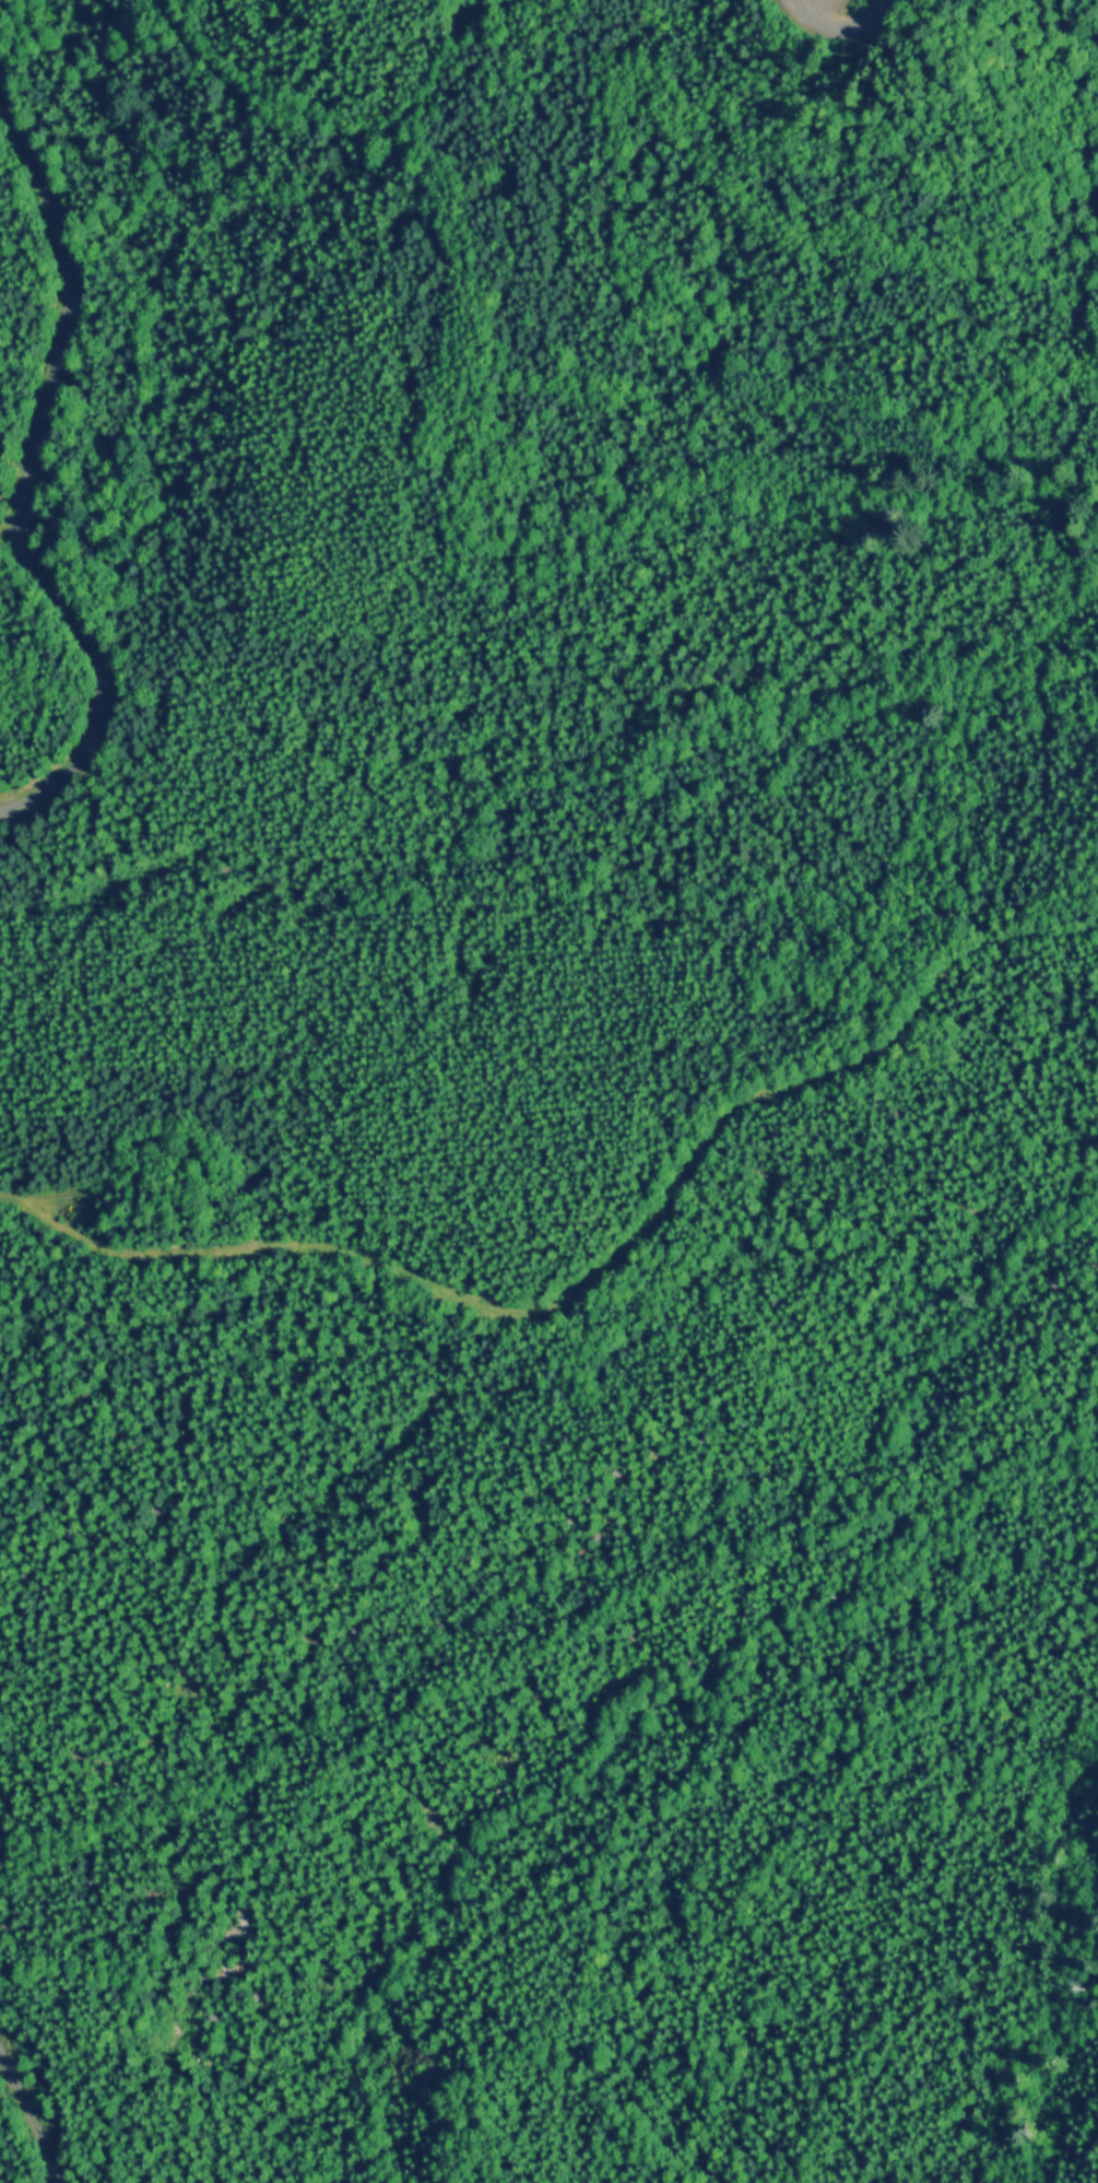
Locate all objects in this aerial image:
road: (846, 25)
quarry: (715, 26)
road: (334, 119)
road: (32, 474)
road: (29, 2113)
road: (477, 2151)

